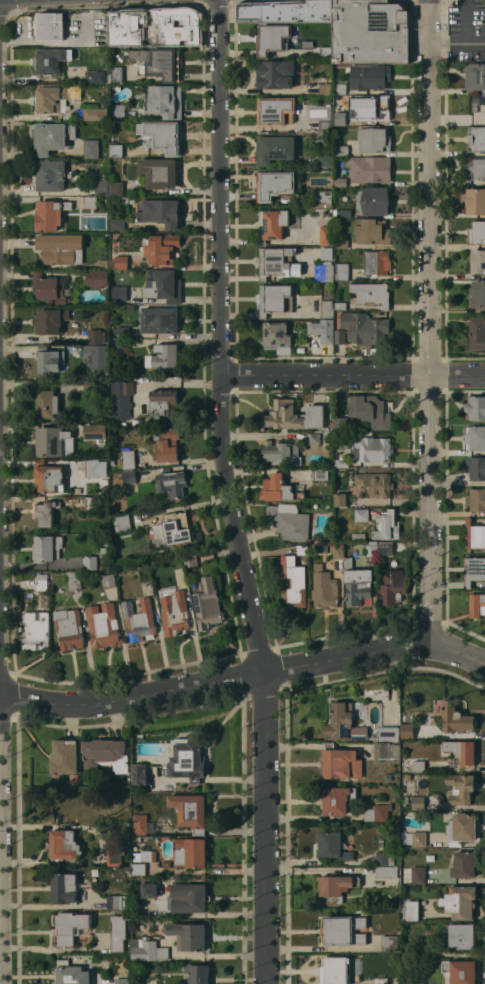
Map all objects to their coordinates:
building: (286, 11)
building: (50, 25)
building: (164, 27)
road: (26, 28)
parking lot: (466, 30)
building: (371, 31)
building: (120, 37)
building: (272, 38)
road: (57, 42)
road: (456, 44)
building: (326, 52)
building: (52, 60)
building: (158, 62)
building: (116, 74)
building: (276, 74)
building: (94, 76)
building: (370, 76)
building: (475, 76)
building: (339, 86)
building: (326, 89)
building: (56, 98)
building: (164, 100)
building: (475, 100)
building: (372, 107)
building: (276, 110)
building: (95, 114)
building: (340, 118)
building: (326, 122)
building: (163, 135)
building: (52, 136)
building: (476, 138)
building: (374, 139)
building: (91, 148)
building: (116, 149)
building: (275, 149)
building: (341, 149)
building: (326, 159)
building: (475, 167)
building: (370, 169)
building: (159, 172)
building: (51, 175)
building: (341, 181)
building: (274, 184)
building: (101, 187)
building: (117, 188)
building: (325, 197)
building: (376, 201)
building: (476, 201)
building: (91, 202)
building: (162, 212)
building: (343, 213)
building: (50, 214)
building: (117, 224)
building: (273, 224)
building: (372, 231)
building: (476, 232)
building: (327, 235)
building: (342, 243)
building: (61, 248)
building: (162, 248)
building: (327, 253)
building: (478, 260)
building: (119, 262)
building: (277, 262)
building: (377, 262)
building: (104, 263)
building: (327, 271)
building: (341, 271)
building: (97, 278)
building: (164, 285)
building: (49, 288)
building: (119, 293)
building: (372, 294)
building: (477, 294)
building: (91, 295)
building: (275, 299)
building: (340, 305)
building: (327, 308)
building: (51, 320)
building: (161, 320)
road: (429, 321)
building: (365, 328)
building: (115, 331)
building: (124, 331)
building: (326, 331)
building: (477, 333)
building: (96, 336)
building: (277, 336)
building: (340, 336)
road: (219, 338)
building: (123, 343)
building: (163, 355)
building: (97, 357)
building: (49, 359)
road: (352, 374)
building: (91, 387)
building: (121, 399)
building: (48, 404)
building: (163, 405)
building: (476, 407)
building: (371, 412)
building: (293, 415)
building: (135, 421)
building: (113, 423)
building: (97, 432)
building: (476, 437)
building: (315, 438)
building: (55, 441)
building: (167, 443)
building: (375, 449)
building: (281, 453)
building: (128, 459)
building: (342, 463)
building: (476, 467)
building: (92, 468)
building: (320, 473)
building: (49, 477)
building: (130, 477)
building: (172, 483)
building: (374, 485)
building: (279, 489)
building: (341, 499)
building: (476, 499)
building: (91, 502)
building: (46, 512)
building: (362, 514)
building: (289, 520)
building: (123, 523)
building: (387, 526)
building: (175, 530)
building: (474, 534)
building: (359, 536)
building: (386, 546)
building: (48, 547)
building: (303, 549)
building: (338, 549)
building: (104, 552)
building: (372, 552)
building: (191, 559)
building: (91, 562)
building: (474, 570)
building: (74, 579)
building: (109, 580)
building: (43, 581)
building: (294, 582)
building: (357, 583)
building: (393, 586)
building: (324, 588)
building: (207, 604)
building: (477, 605)
building: (175, 612)
building: (139, 620)
building: (105, 625)
building: (69, 629)
building: (37, 630)
road: (244, 676)
building: (421, 712)
building: (456, 717)
building: (344, 723)
building: (407, 730)
building: (387, 732)
building: (387, 750)
building: (463, 750)
building: (107, 753)
building: (65, 756)
building: (188, 760)
building: (341, 763)
building: (418, 765)
building: (140, 774)
building: (388, 776)
building: (74, 779)
building: (461, 788)
building: (337, 800)
building: (406, 801)
building: (418, 803)
building: (190, 811)
building: (378, 813)
building: (142, 824)
building: (463, 827)
road: (264, 828)
building: (415, 838)
building: (136, 839)
building: (65, 846)
building: (334, 847)
building: (192, 852)
building: (145, 855)
building: (114, 856)
building: (385, 858)
building: (167, 864)
building: (464, 864)
building: (138, 869)
road: (312, 869)
building: (386, 871)
building: (418, 875)
building: (64, 887)
building: (336, 887)
building: (148, 890)
building: (190, 898)
building: (117, 901)
building: (460, 902)
building: (413, 910)
building: (71, 927)
building: (344, 930)
building: (118, 932)
building: (189, 935)
building: (463, 936)
building: (389, 942)
building: (148, 949)
building: (420, 949)
building: (336, 970)
building: (459, 972)
building: (71, 973)
building: (198, 973)
building: (123, 975)
building: (381, 980)
building: (394, 981)
building: (137, 982)
building: (419, 983)

